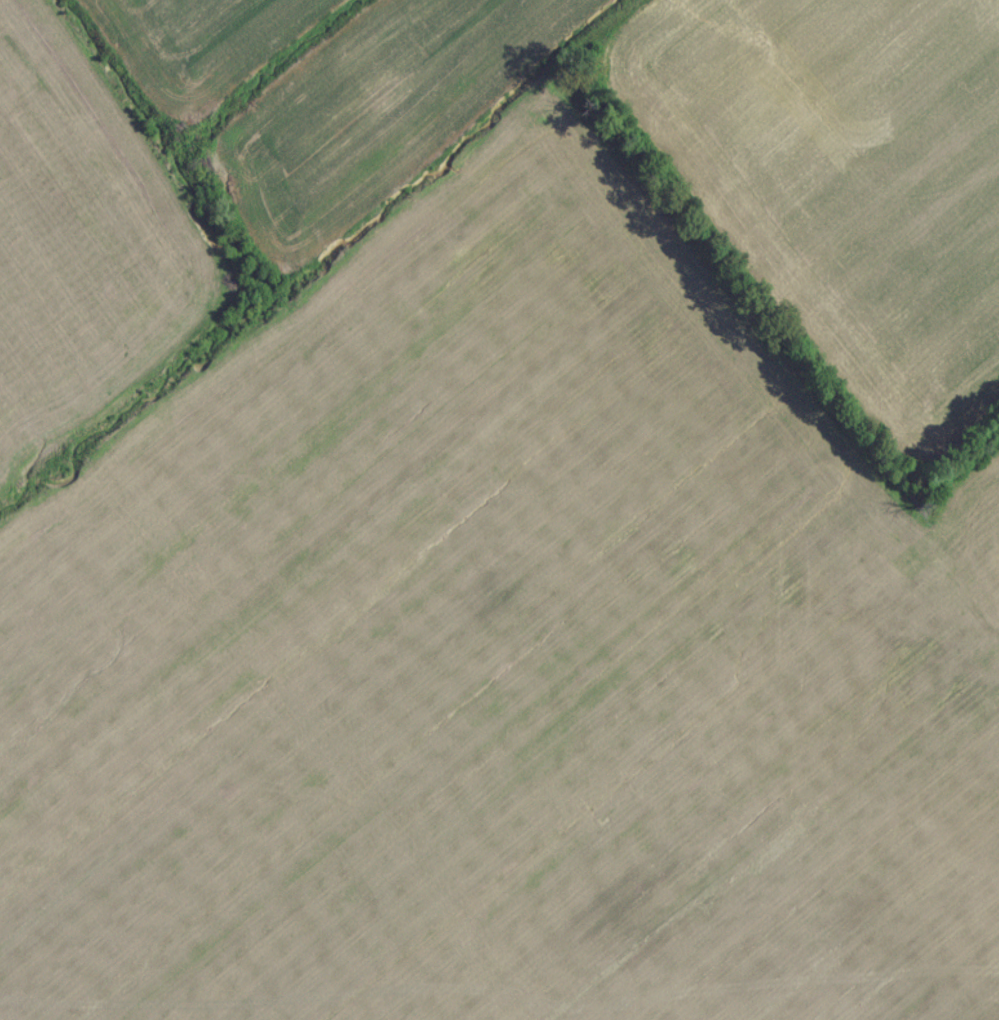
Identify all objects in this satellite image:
road: (598, 29)

